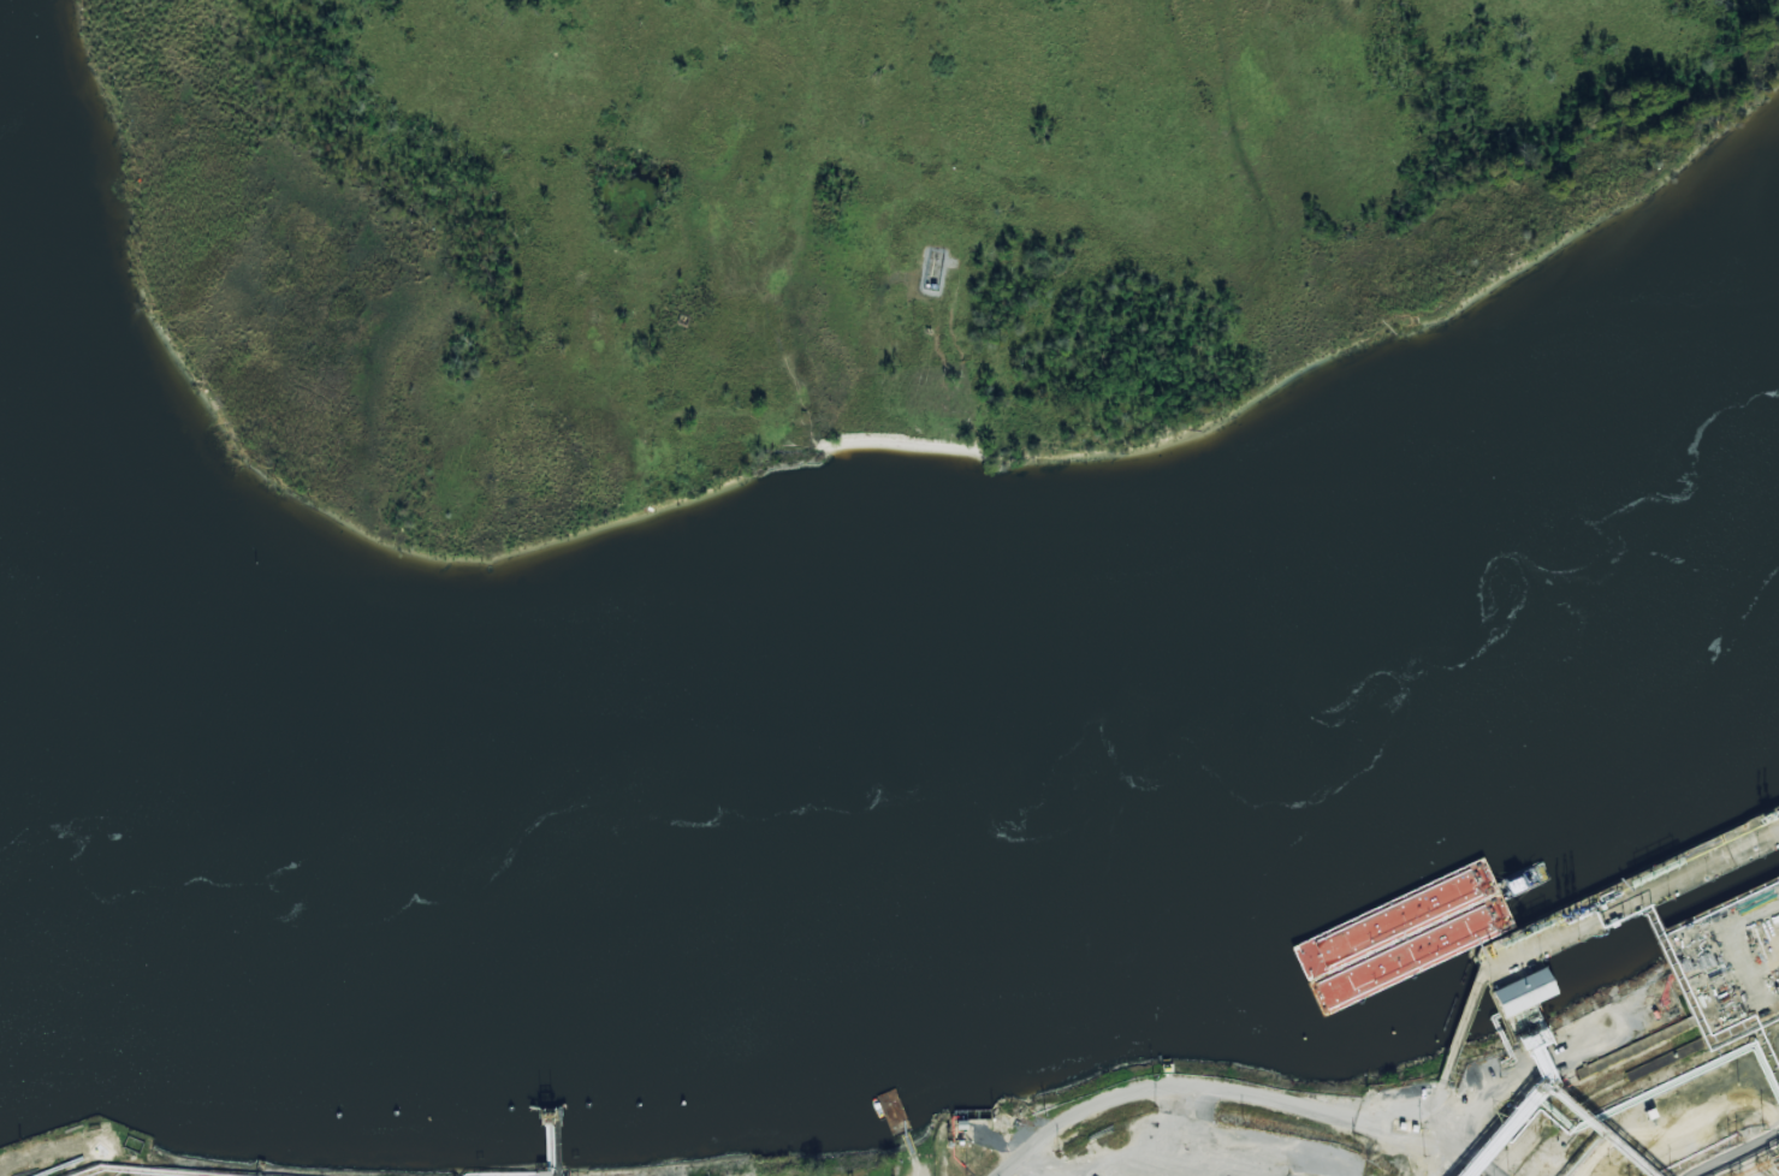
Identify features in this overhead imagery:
river: (912, 790)
building: (1726, 967)
building: (1522, 993)
road: (1741, 1156)
road: (1747, 1166)

